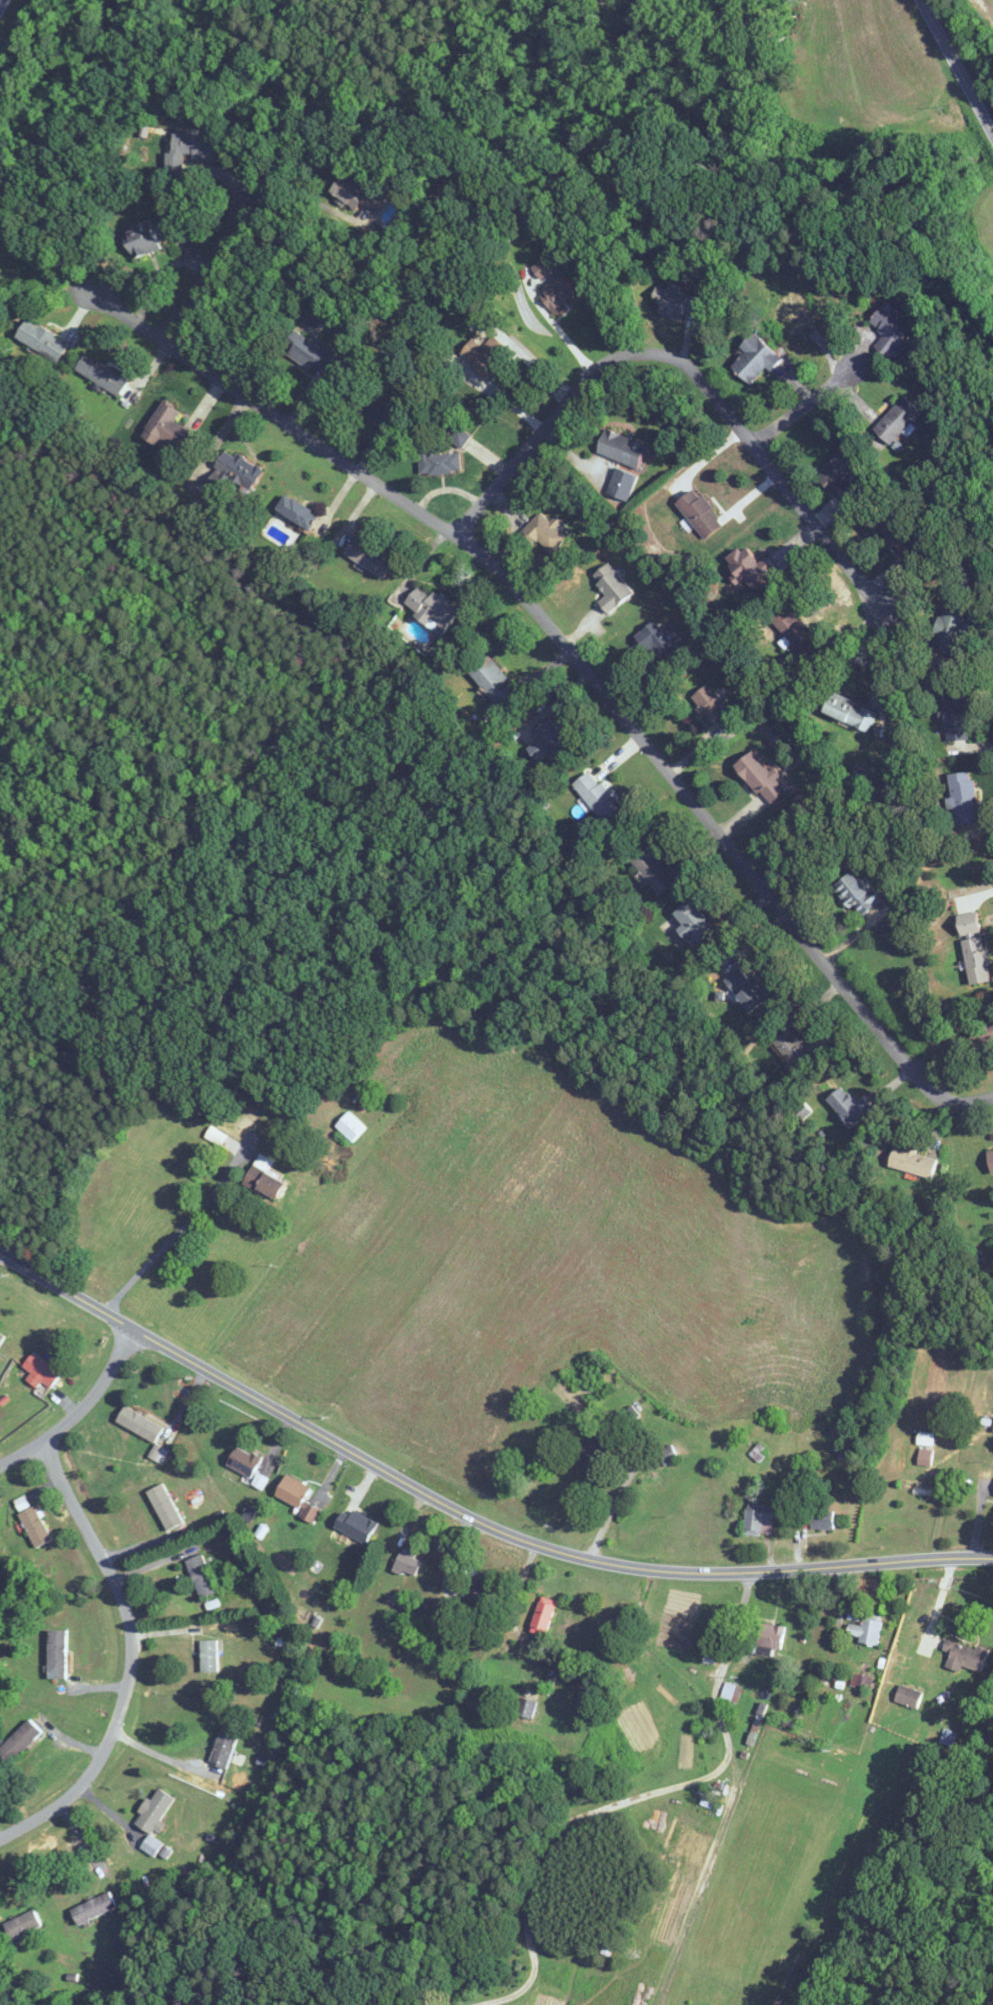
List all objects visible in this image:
road: (0, 1)
road: (957, 64)
building: (194, 147)
building: (355, 192)
building: (142, 240)
road: (216, 256)
building: (553, 284)
building: (680, 303)
building: (798, 305)
building: (890, 330)
building: (42, 340)
building: (310, 353)
building: (485, 354)
building: (755, 359)
road: (694, 373)
building: (102, 375)
road: (812, 396)
road: (504, 400)
building: (375, 408)
building: (896, 420)
building: (168, 428)
building: (460, 437)
building: (621, 448)
building: (439, 462)
building: (238, 469)
building: (839, 477)
building: (297, 511)
building: (699, 513)
building: (545, 531)
building: (903, 538)
building: (368, 556)
building: (752, 570)
building: (612, 587)
building: (432, 608)
building: (948, 631)
building: (795, 632)
building: (662, 646)
road: (570, 648)
building: (495, 683)
building: (716, 709)
building: (850, 713)
building: (956, 716)
building: (549, 741)
building: (761, 778)
building: (598, 797)
building: (962, 798)
building: (652, 869)
building: (857, 895)
building: (695, 922)
building: (977, 961)
building: (746, 989)
building: (499, 1020)
building: (983, 1034)
building: (800, 1049)
building: (850, 1106)
building: (350, 1127)
building: (991, 1160)
building: (913, 1162)
building: (264, 1178)
road: (176, 1233)
building: (1, 1338)
building: (40, 1371)
road: (80, 1409)
building: (139, 1423)
building: (596, 1451)
building: (847, 1453)
building: (668, 1455)
building: (925, 1456)
building: (244, 1461)
building: (259, 1481)
building: (918, 1487)
building: (297, 1497)
building: (165, 1506)
road: (614, 1506)
road: (467, 1511)
building: (821, 1519)
building: (759, 1520)
building: (35, 1525)
building: (357, 1525)
building: (407, 1563)
building: (201, 1575)
building: (482, 1595)
building: (543, 1616)
building: (867, 1630)
building: (771, 1636)
building: (57, 1654)
building: (209, 1655)
road: (130, 1656)
building: (964, 1656)
building: (728, 1691)
building: (908, 1696)
building: (526, 1708)
building: (19, 1741)
building: (224, 1745)
road: (160, 1753)
road: (633, 1798)
building: (155, 1810)
building: (160, 1849)
building: (93, 1908)
building: (22, 1925)

